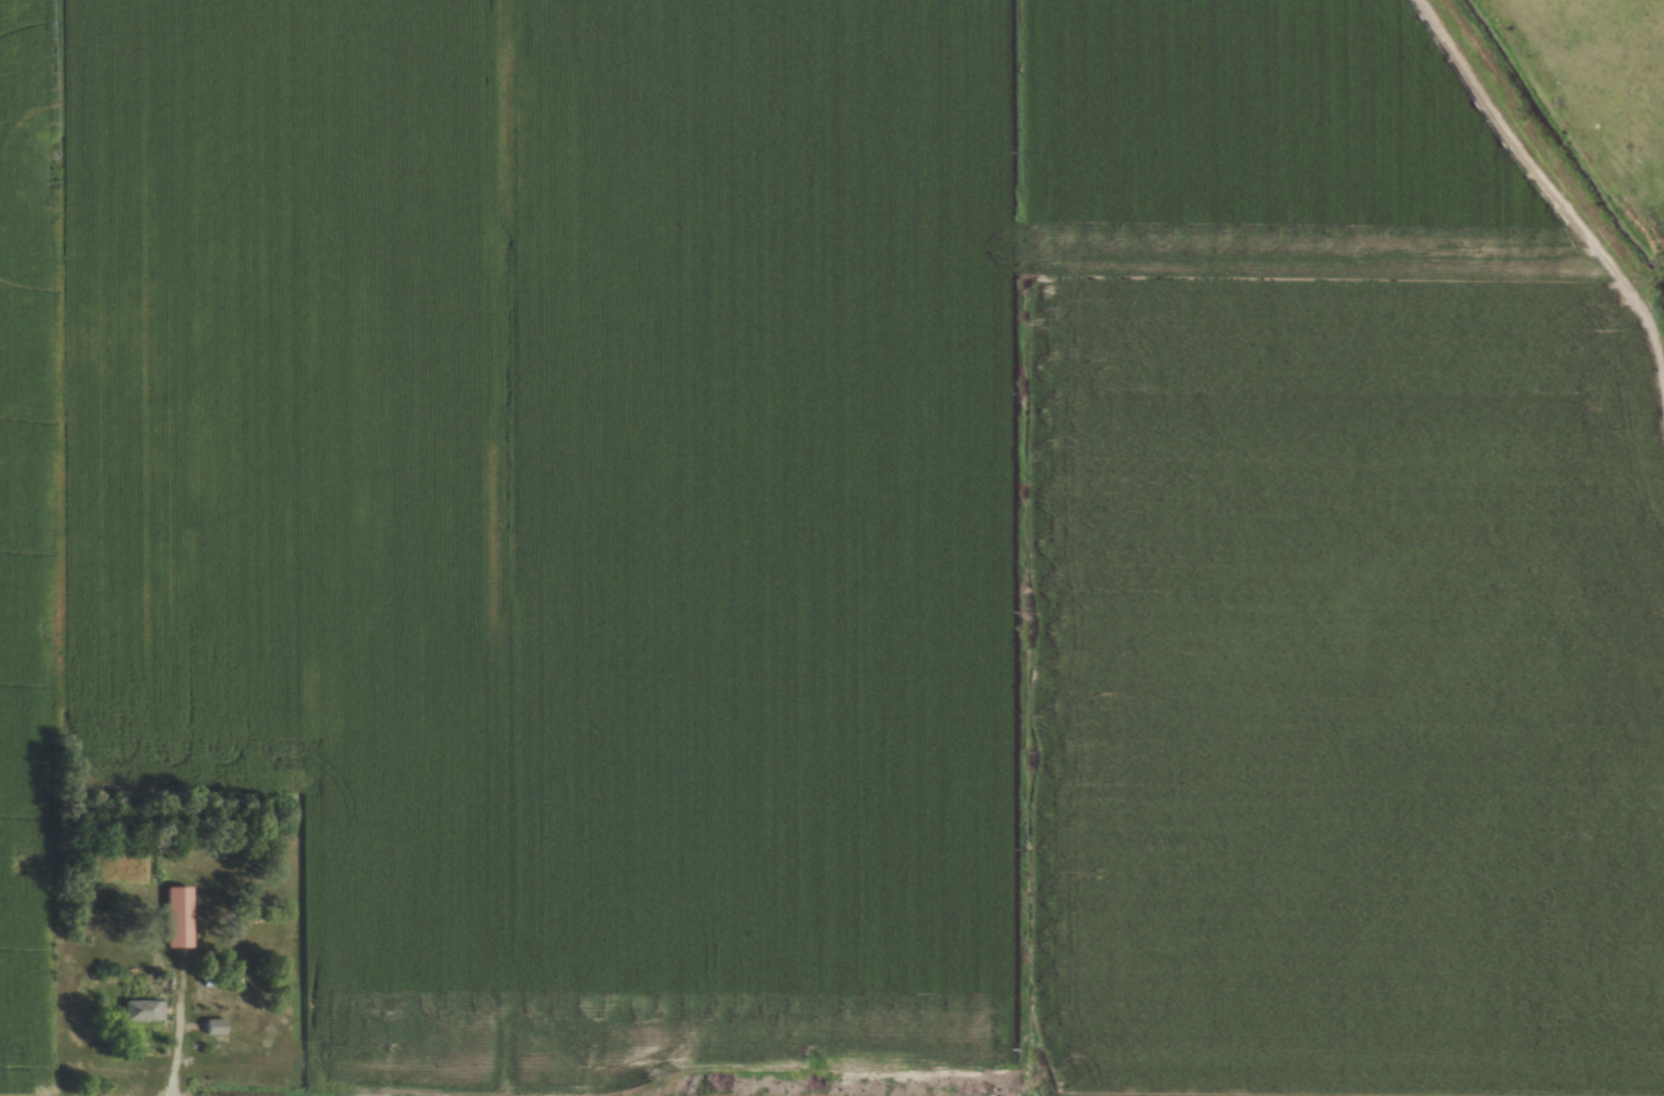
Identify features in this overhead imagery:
building: (179, 918)
building: (143, 1011)
road: (180, 1025)
building: (214, 1027)

